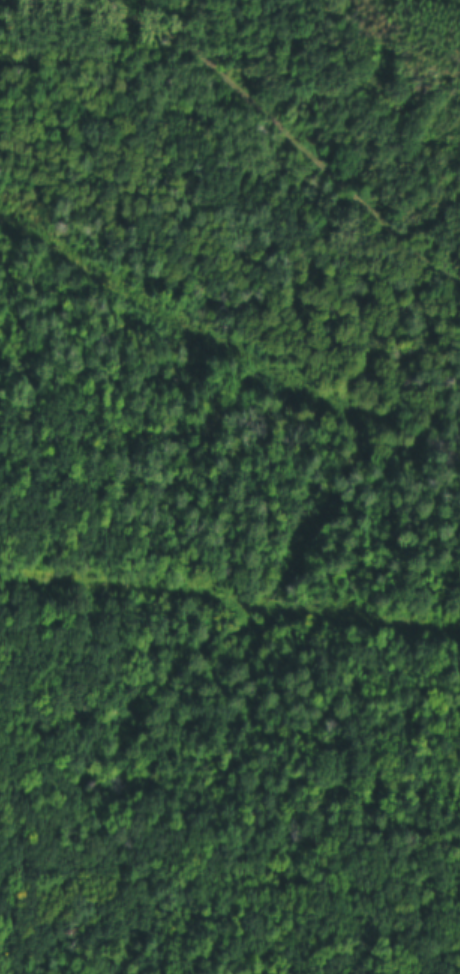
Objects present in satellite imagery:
road: (259, 124)

